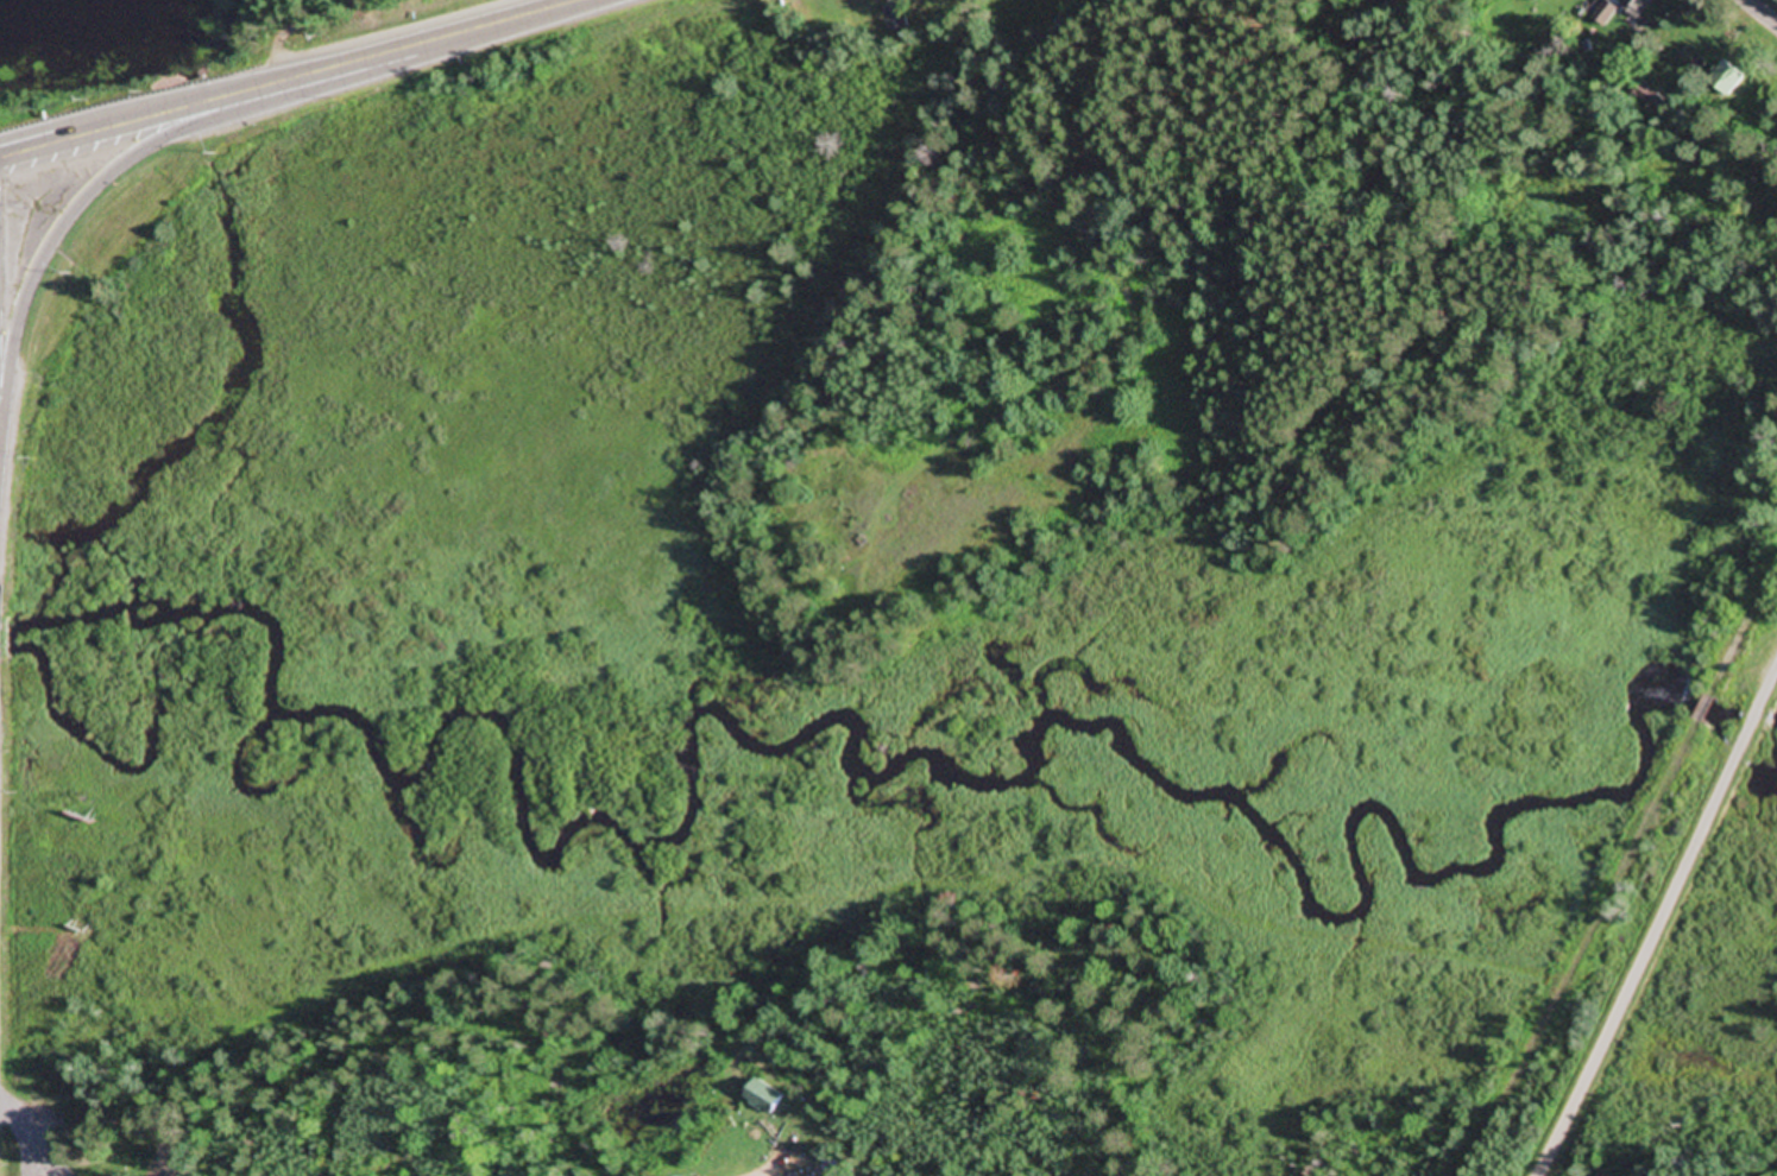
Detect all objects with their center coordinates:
building: (1638, 7)
road: (1763, 11)
building: (896, 17)
road: (433, 44)
building: (1649, 97)
road: (138, 124)
road: (68, 223)
road: (1771, 683)
road: (1756, 715)
road: (1644, 957)
building: (768, 1096)

